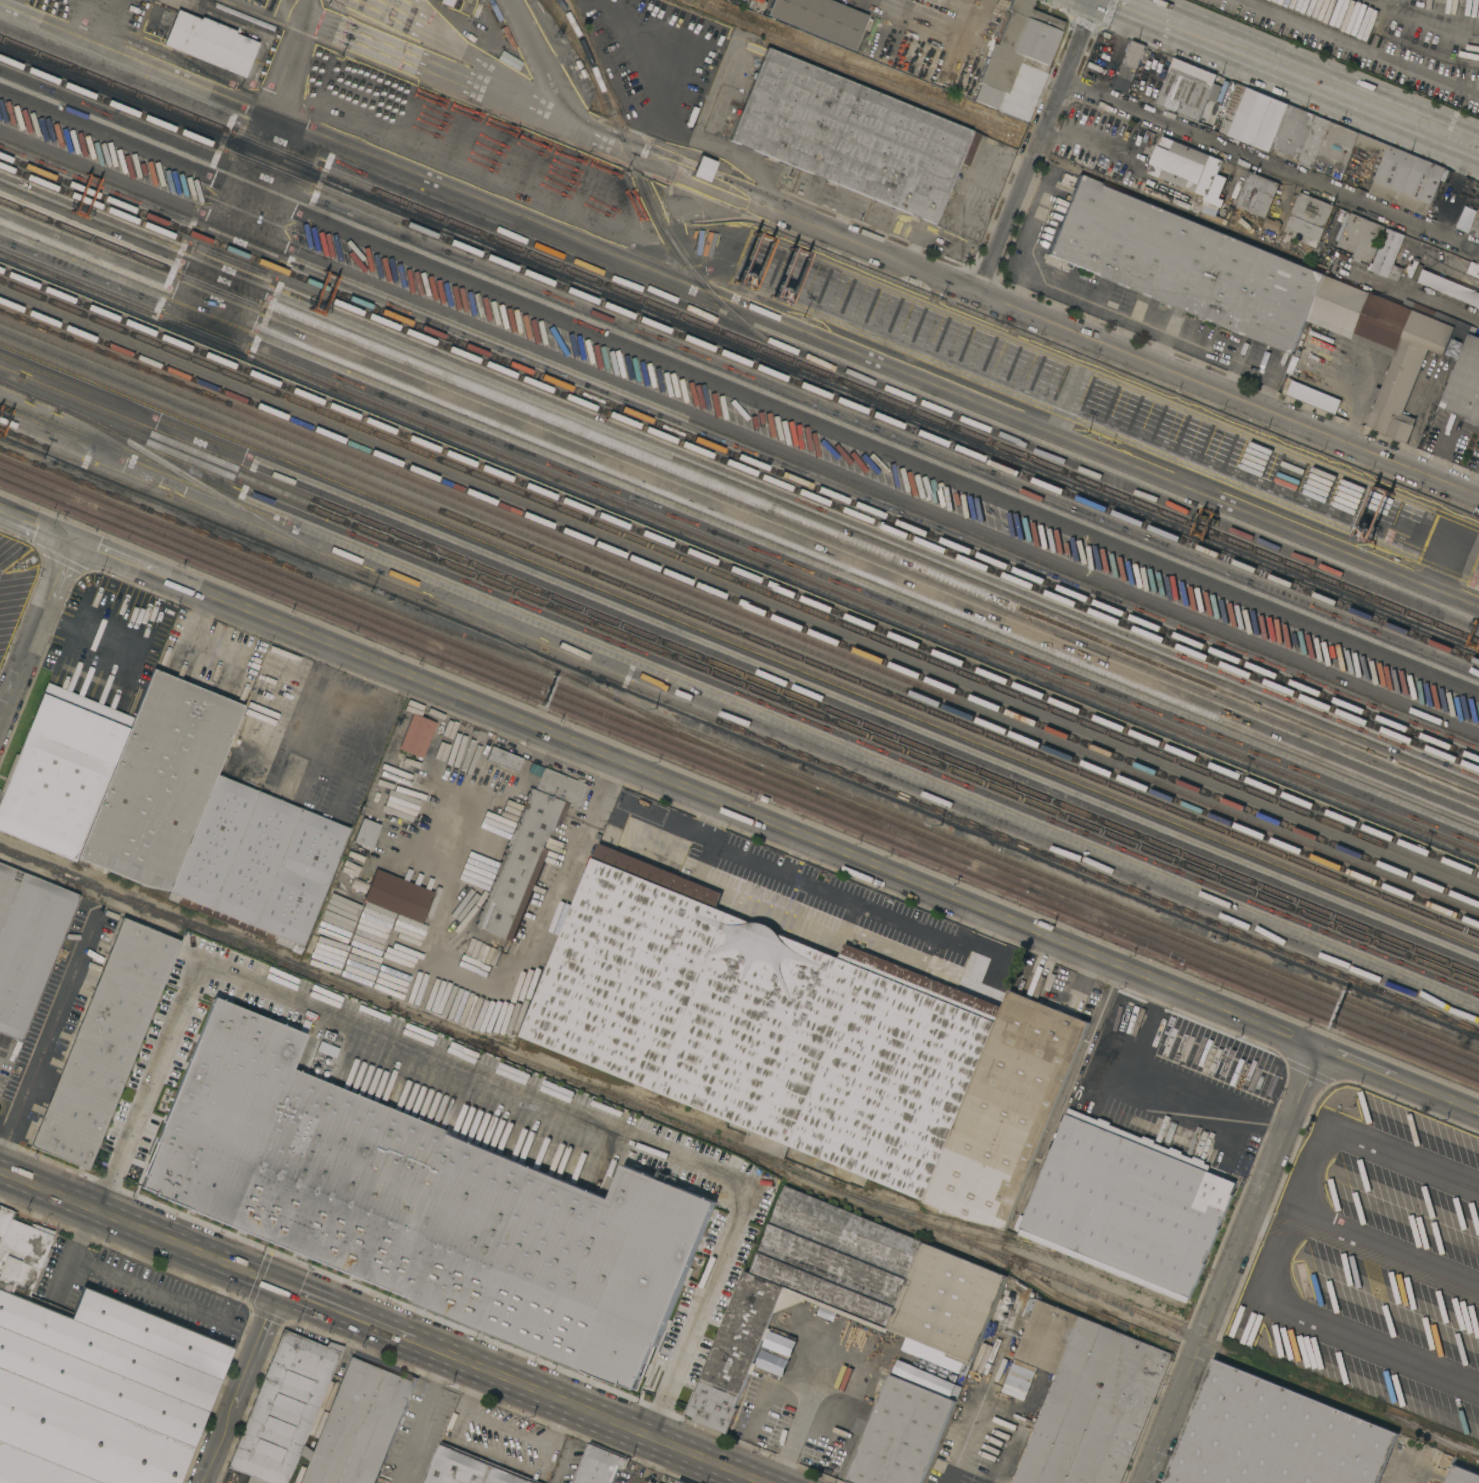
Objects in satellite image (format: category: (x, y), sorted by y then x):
building: (447, 2)
building: (336, 4)
building: (823, 19)
road: (1431, 23)
road: (942, 33)
building: (211, 42)
road: (1357, 46)
building: (538, 47)
building: (1017, 48)
building: (1129, 66)
railway: (848, 67)
road: (445, 73)
road: (1294, 76)
building: (1186, 88)
building: (1214, 92)
building: (1232, 104)
building: (1257, 118)
building: (1293, 130)
building: (853, 134)
road: (1086, 135)
building: (1314, 141)
building: (1371, 144)
building: (1338, 145)
road: (1032, 148)
road: (1269, 165)
building: (1186, 166)
building: (702, 168)
building: (1447, 175)
building: (1406, 179)
railway: (641, 182)
building: (1256, 193)
building: (1307, 219)
road: (797, 223)
building: (1272, 223)
building: (1475, 226)
building: (1352, 231)
building: (1368, 240)
building: (1382, 256)
building: (1185, 263)
building: (1473, 269)
building: (1449, 287)
building: (1439, 316)
railway: (739, 337)
building: (1384, 343)
railway: (740, 356)
building: (1465, 383)
railway: (9, 386)
road: (1226, 395)
building: (1311, 395)
road: (1448, 437)
railway: (739, 457)
railway: (739, 465)
road: (1138, 468)
road: (1476, 486)
railway: (212, 491)
railway: (739, 500)
railway: (212, 513)
traffic signals: (71, 544)
railway: (739, 550)
railway: (285, 563)
railway: (739, 571)
railway: (290, 576)
railway: (739, 579)
railway: (739, 590)
railway: (739, 601)
railway: (739, 612)
railway: (739, 621)
railway: (739, 631)
road: (35, 632)
road: (85, 637)
railway: (515, 644)
railway: (739, 644)
building: (3, 645)
railway: (739, 650)
railway: (477, 661)
railway: (739, 674)
railway: (740, 684)
road: (329, 686)
road: (306, 713)
railway: (583, 714)
railway: (669, 725)
road: (316, 727)
building: (417, 734)
railway: (702, 743)
road: (299, 757)
building: (504, 758)
building: (407, 768)
building: (119, 776)
railway: (739, 808)
road: (739, 813)
railway: (952, 814)
railway: (889, 824)
road: (684, 830)
building: (365, 832)
building: (527, 851)
building: (258, 862)
road: (761, 863)
railway: (30, 867)
railway: (1041, 873)
railway: (999, 874)
road: (560, 884)
building: (398, 894)
railway: (198, 916)
railway: (1105, 922)
road: (911, 924)
road: (799, 925)
railway: (1150, 927)
road: (989, 930)
building: (27, 941)
railway: (1261, 981)
building: (292, 987)
building: (311, 998)
railway: (1322, 1015)
building: (1117, 1016)
building: (1171, 1021)
building: (762, 1022)
building: (104, 1042)
road: (48, 1046)
road: (473, 1077)
building: (301, 1090)
building: (1006, 1110)
building: (212, 1137)
building: (767, 1143)
railway: (739, 1147)
building: (1124, 1190)
railway: (852, 1204)
road: (1272, 1206)
railway: (930, 1215)
road: (141, 1227)
road: (1276, 1244)
road: (1384, 1248)
railway: (1057, 1255)
road: (1231, 1265)
road: (125, 1277)
traffic signals: (283, 1286)
building: (843, 1293)
railway: (1067, 1303)
road: (365, 1319)
road: (256, 1353)
railway: (1262, 1372)
building: (93, 1379)
road: (470, 1387)
building: (1087, 1397)
building: (365, 1410)
road: (802, 1411)
road: (421, 1417)
road: (606, 1418)
road: (559, 1425)
road: (506, 1428)
building: (901, 1434)
building: (1273, 1436)
railway: (1433, 1436)
road: (963, 1442)
road: (571, 1446)
road: (216, 1451)
road: (493, 1457)
road: (641, 1459)
building: (599, 1465)
building: (470, 1469)
road: (1417, 1471)
building: (1461, 1475)
building: (681, 1481)

